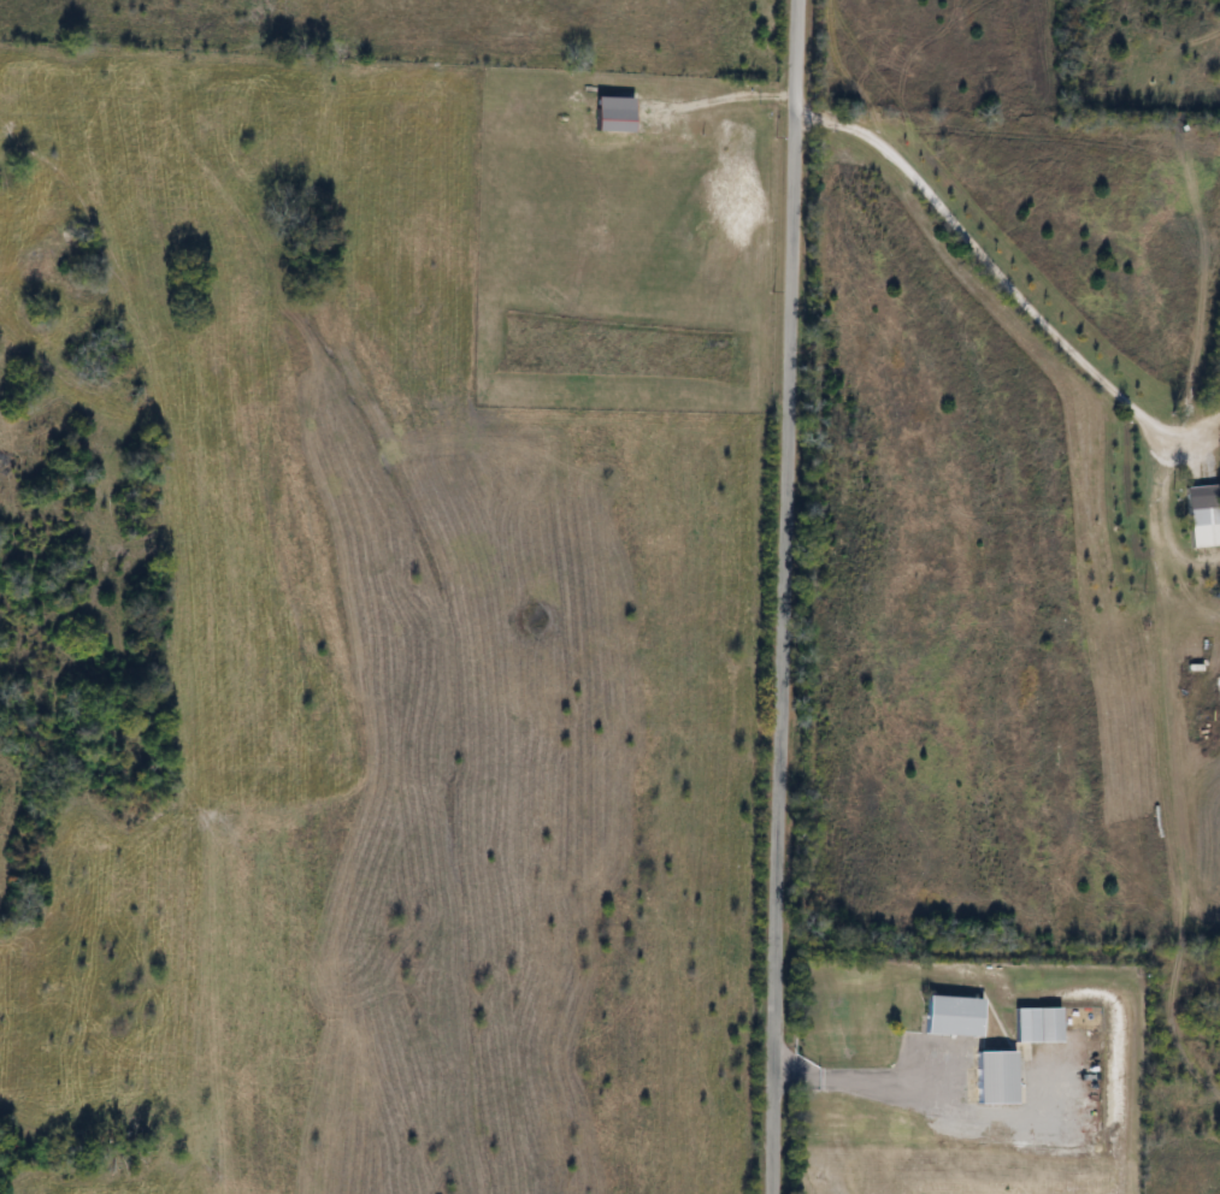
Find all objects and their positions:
road: (717, 96)
road: (1003, 283)
building: (1194, 515)
road: (783, 596)
building: (950, 1016)
building: (1032, 1024)
building: (990, 1077)
road: (865, 1082)

